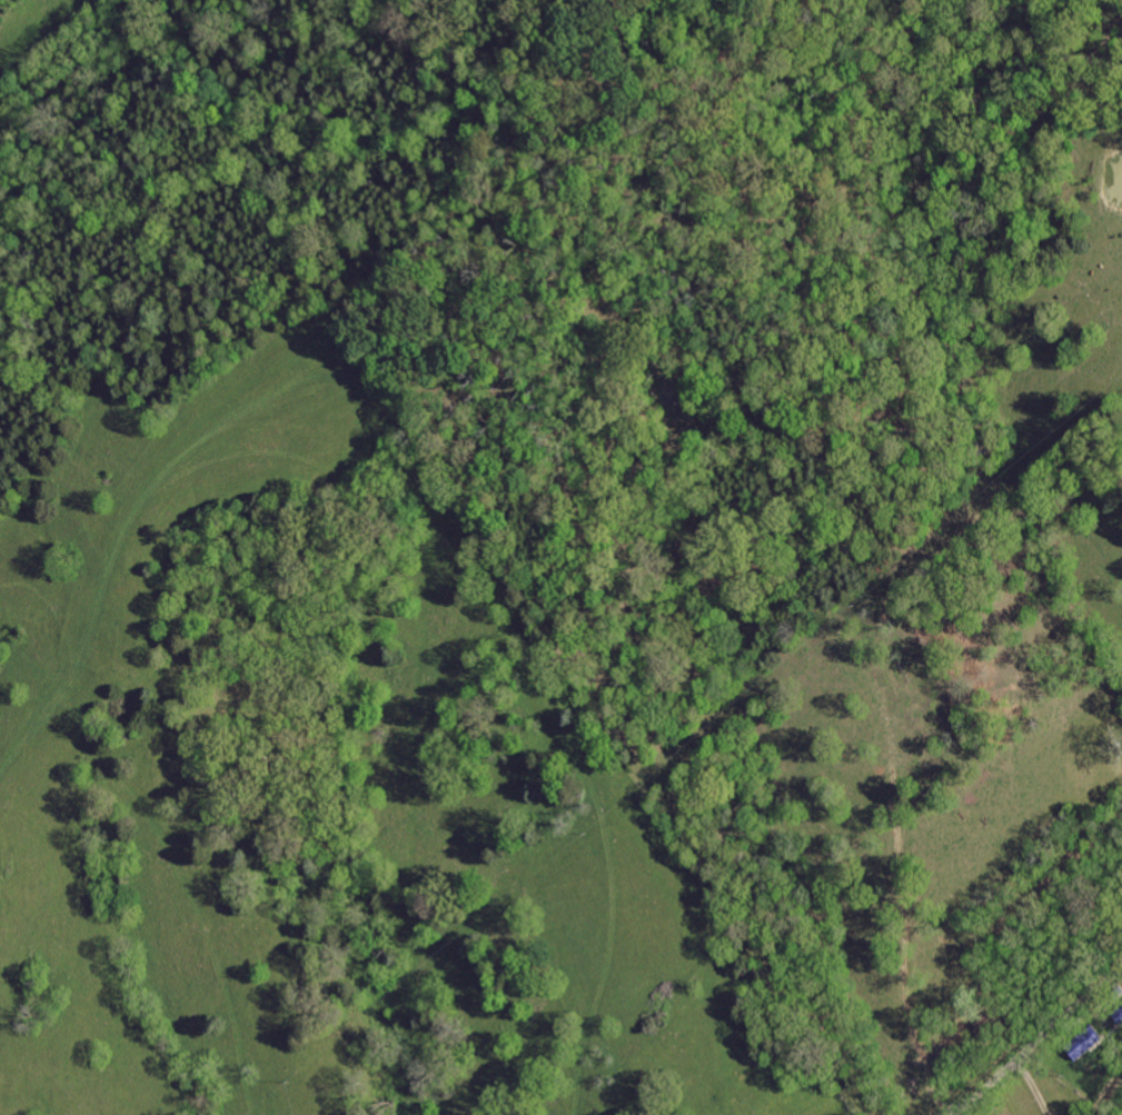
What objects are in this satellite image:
road: (1034, 1038)
road: (1029, 1085)

